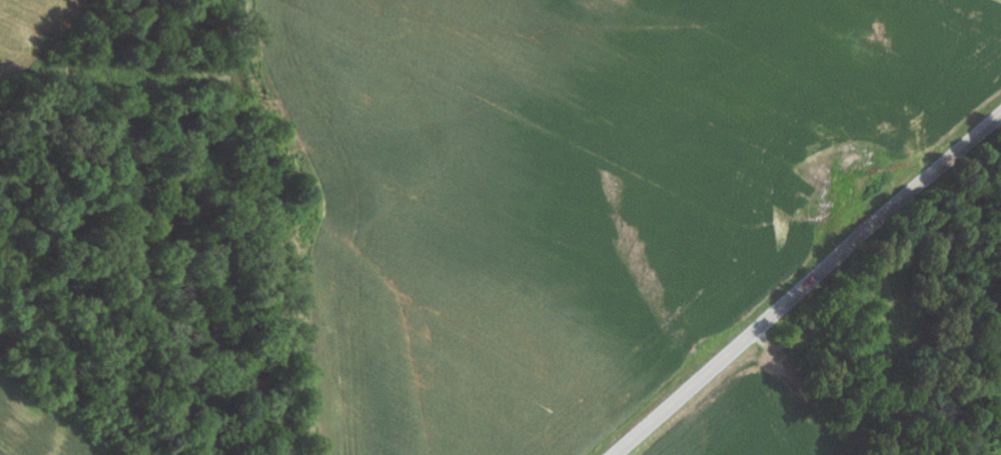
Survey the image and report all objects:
road: (807, 285)

